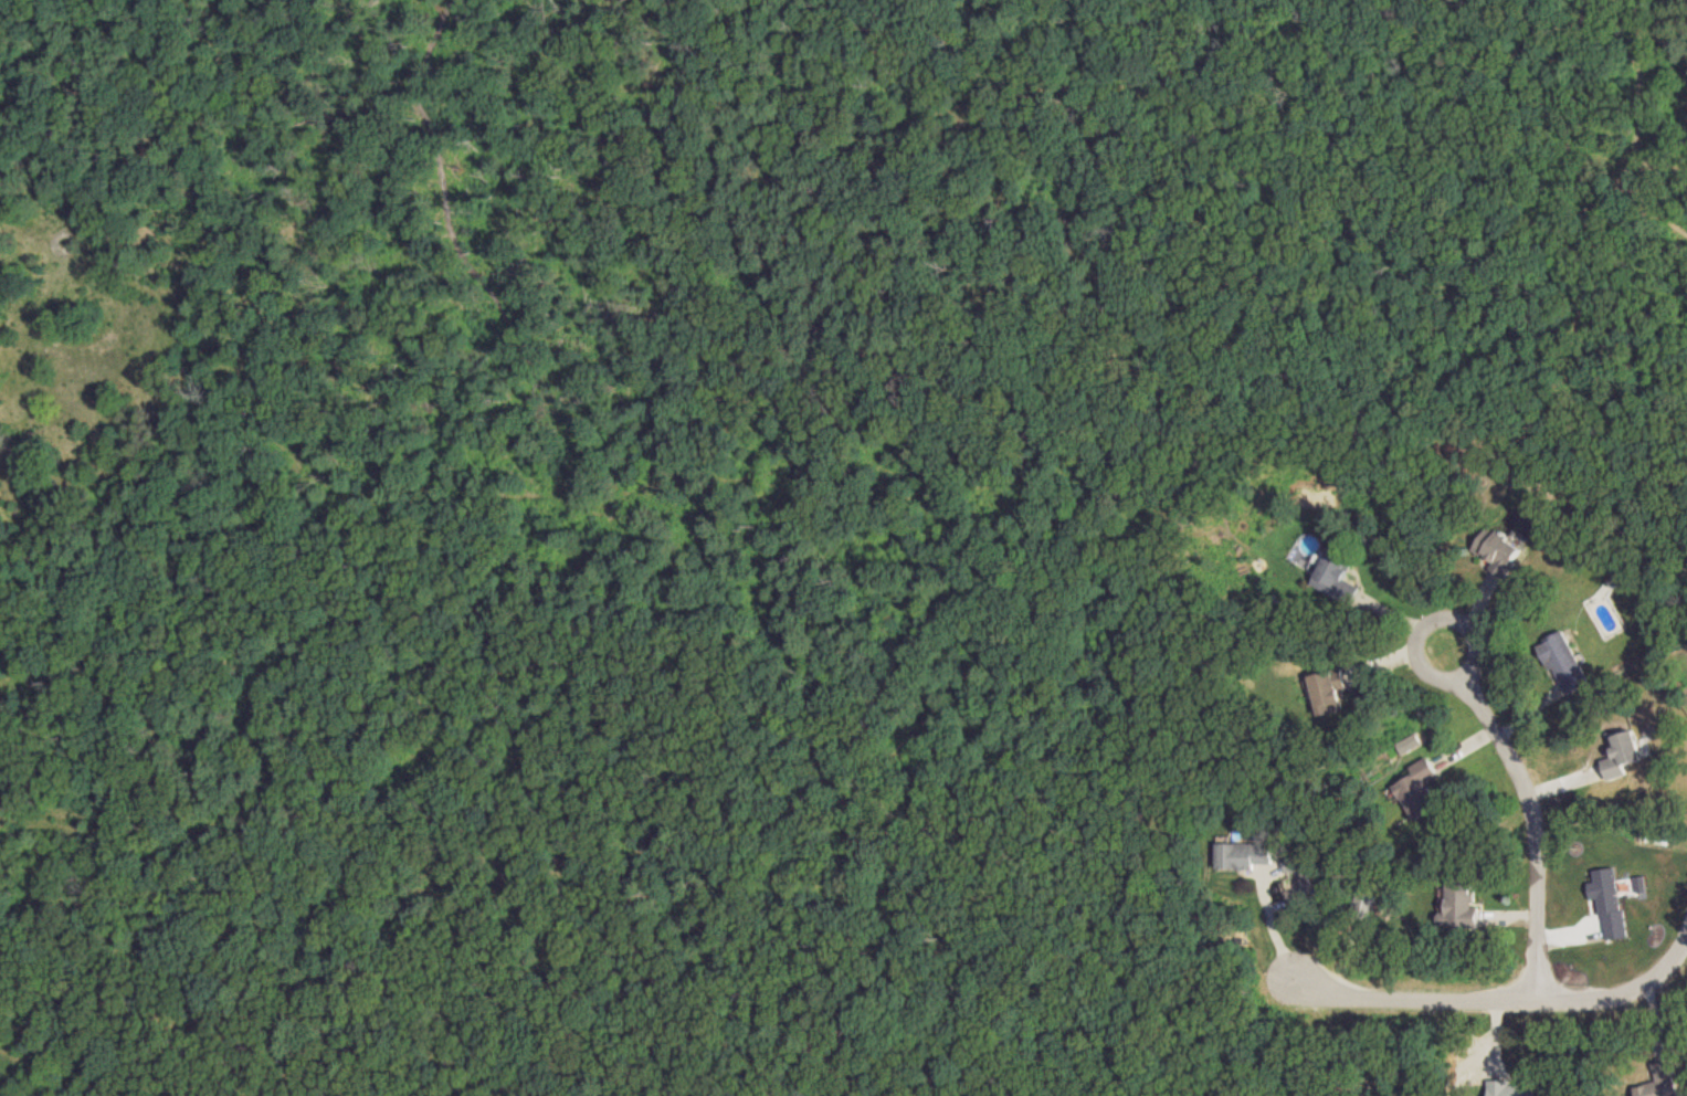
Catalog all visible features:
building: (1494, 551)
building: (1333, 579)
building: (1562, 664)
building: (1326, 694)
road: (1499, 736)
building: (1625, 753)
building: (1415, 791)
building: (1243, 856)
building: (1458, 904)
road: (1498, 1001)
building: (1659, 1082)
building: (1510, 1089)

